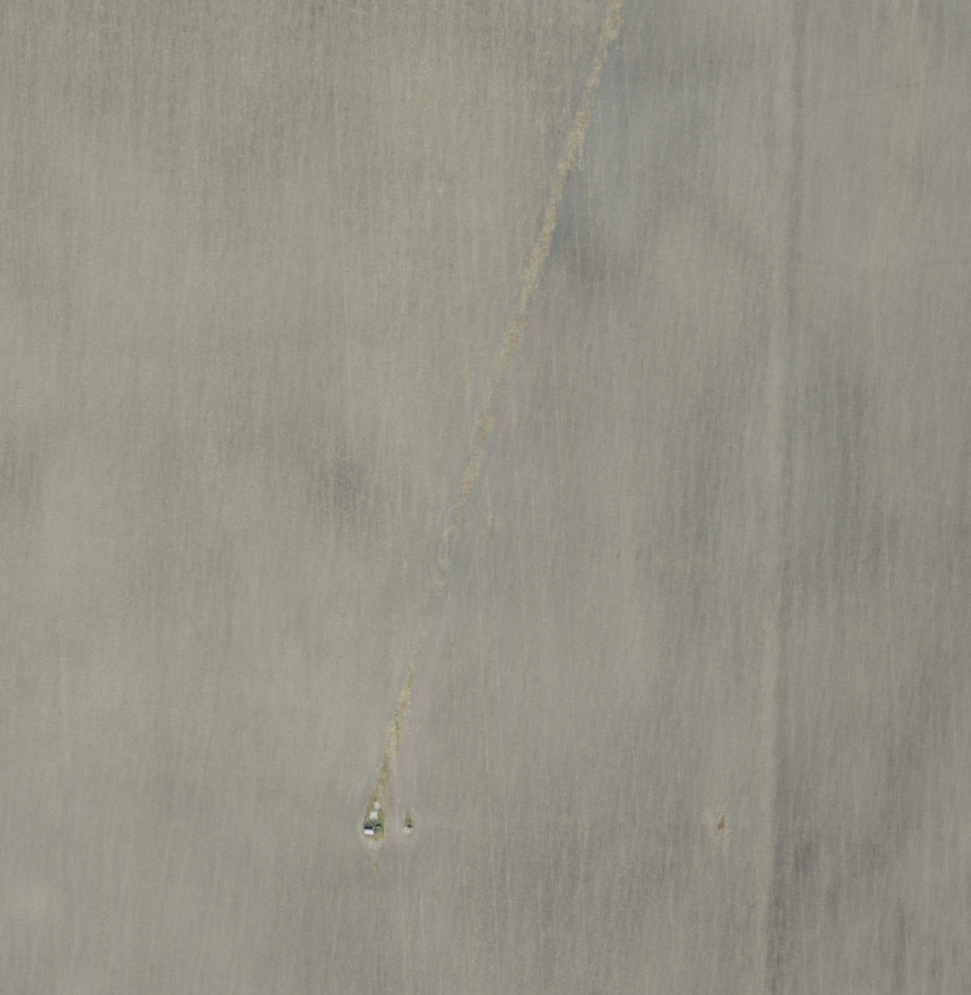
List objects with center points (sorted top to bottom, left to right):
road: (768, 497)

